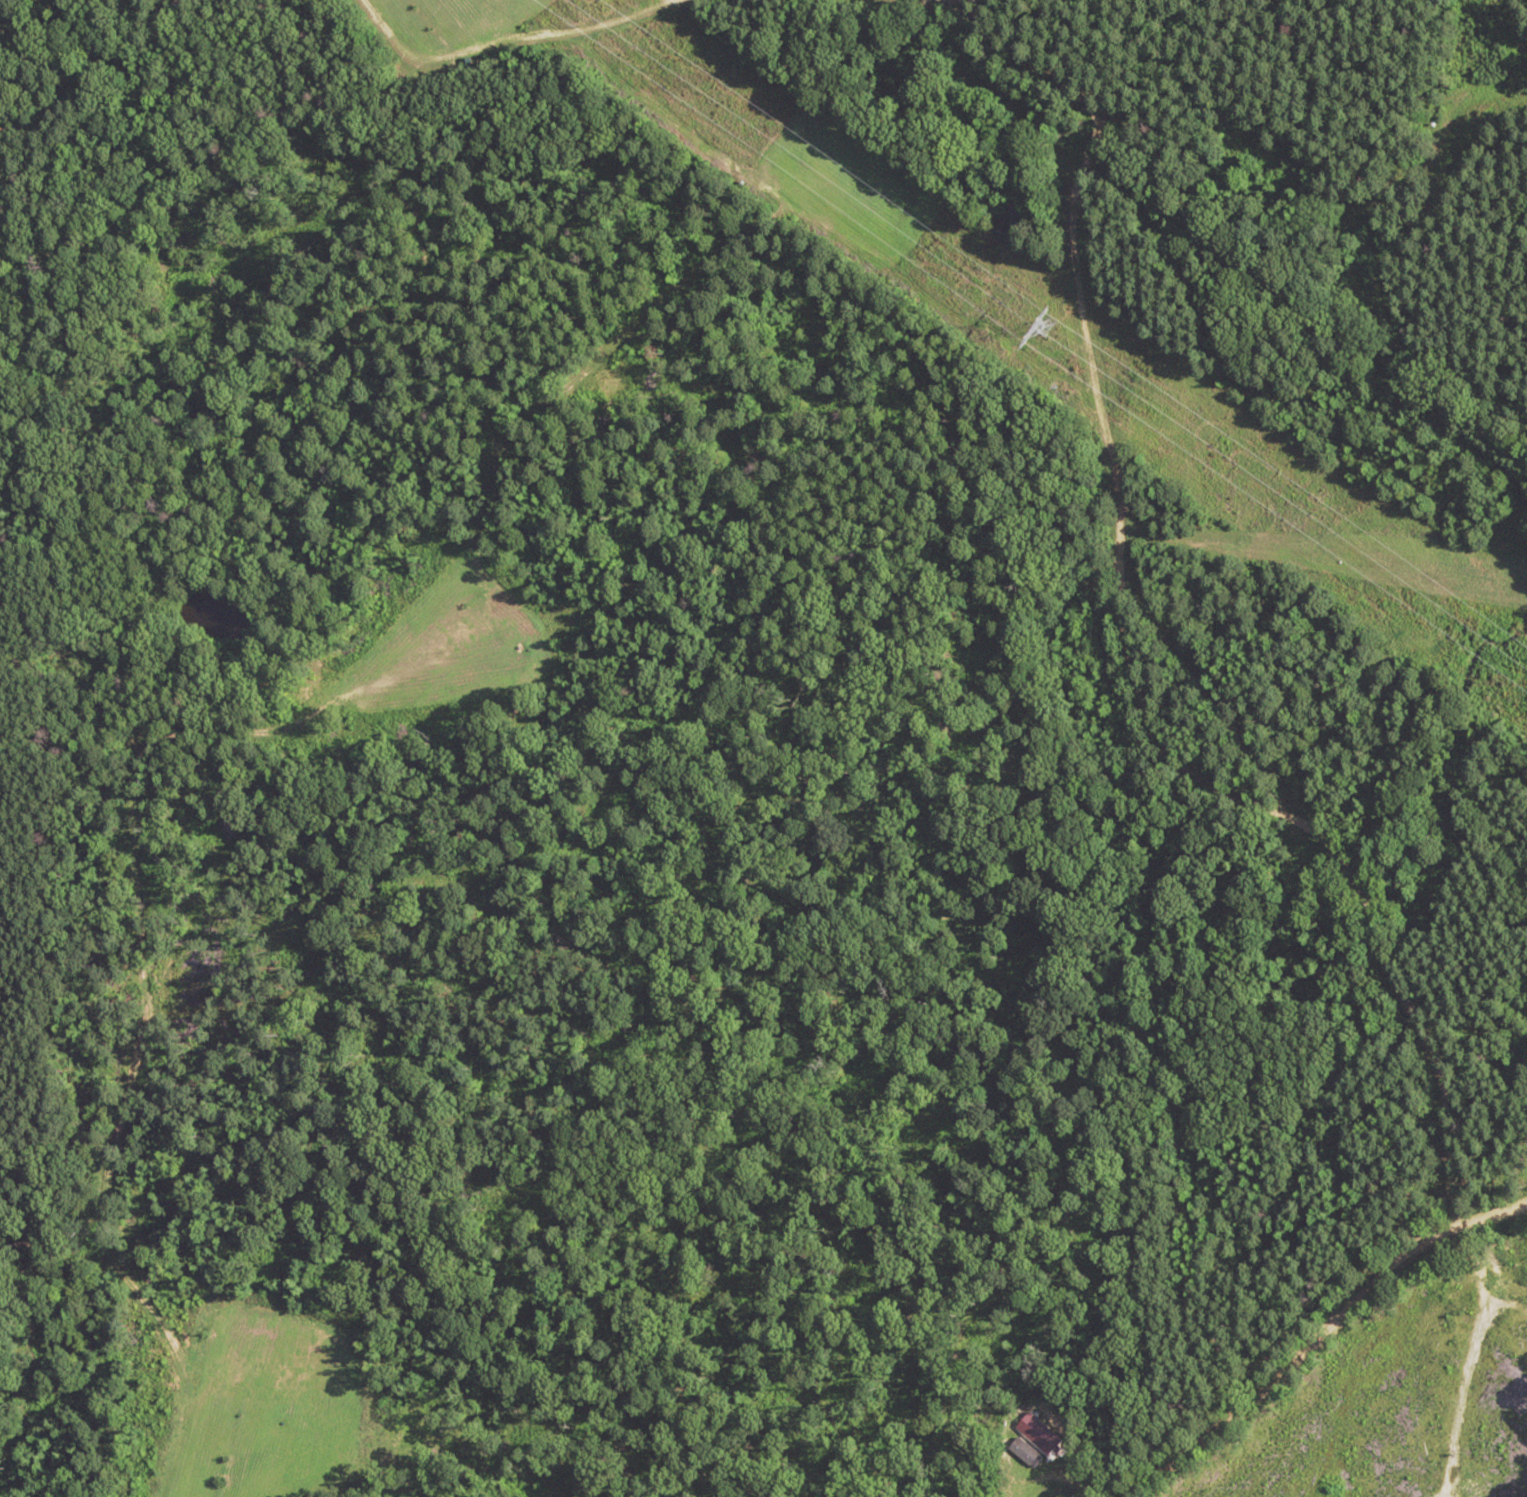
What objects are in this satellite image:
power tower: (1041, 329)
road: (1300, 1323)

